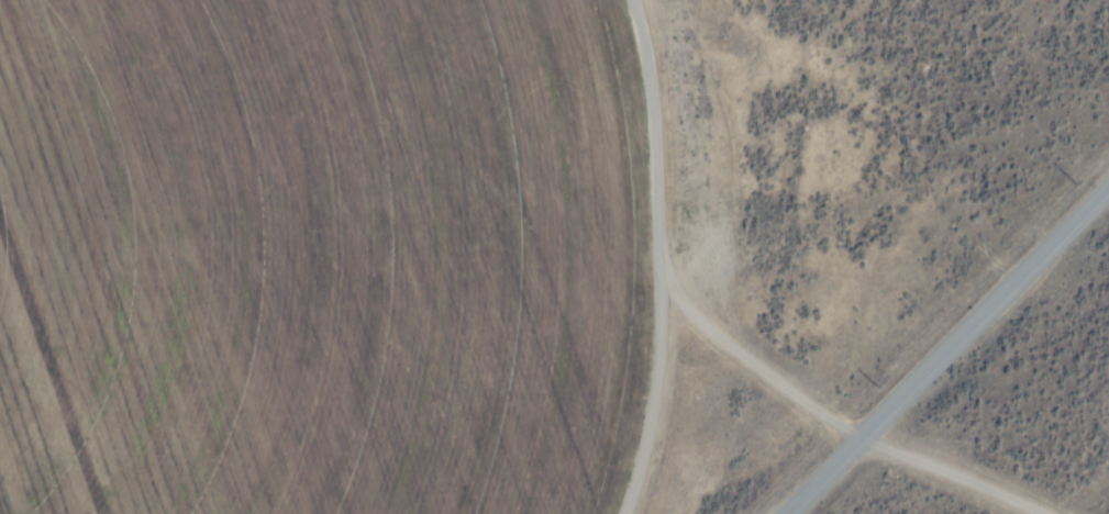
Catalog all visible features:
road: (953, 355)

